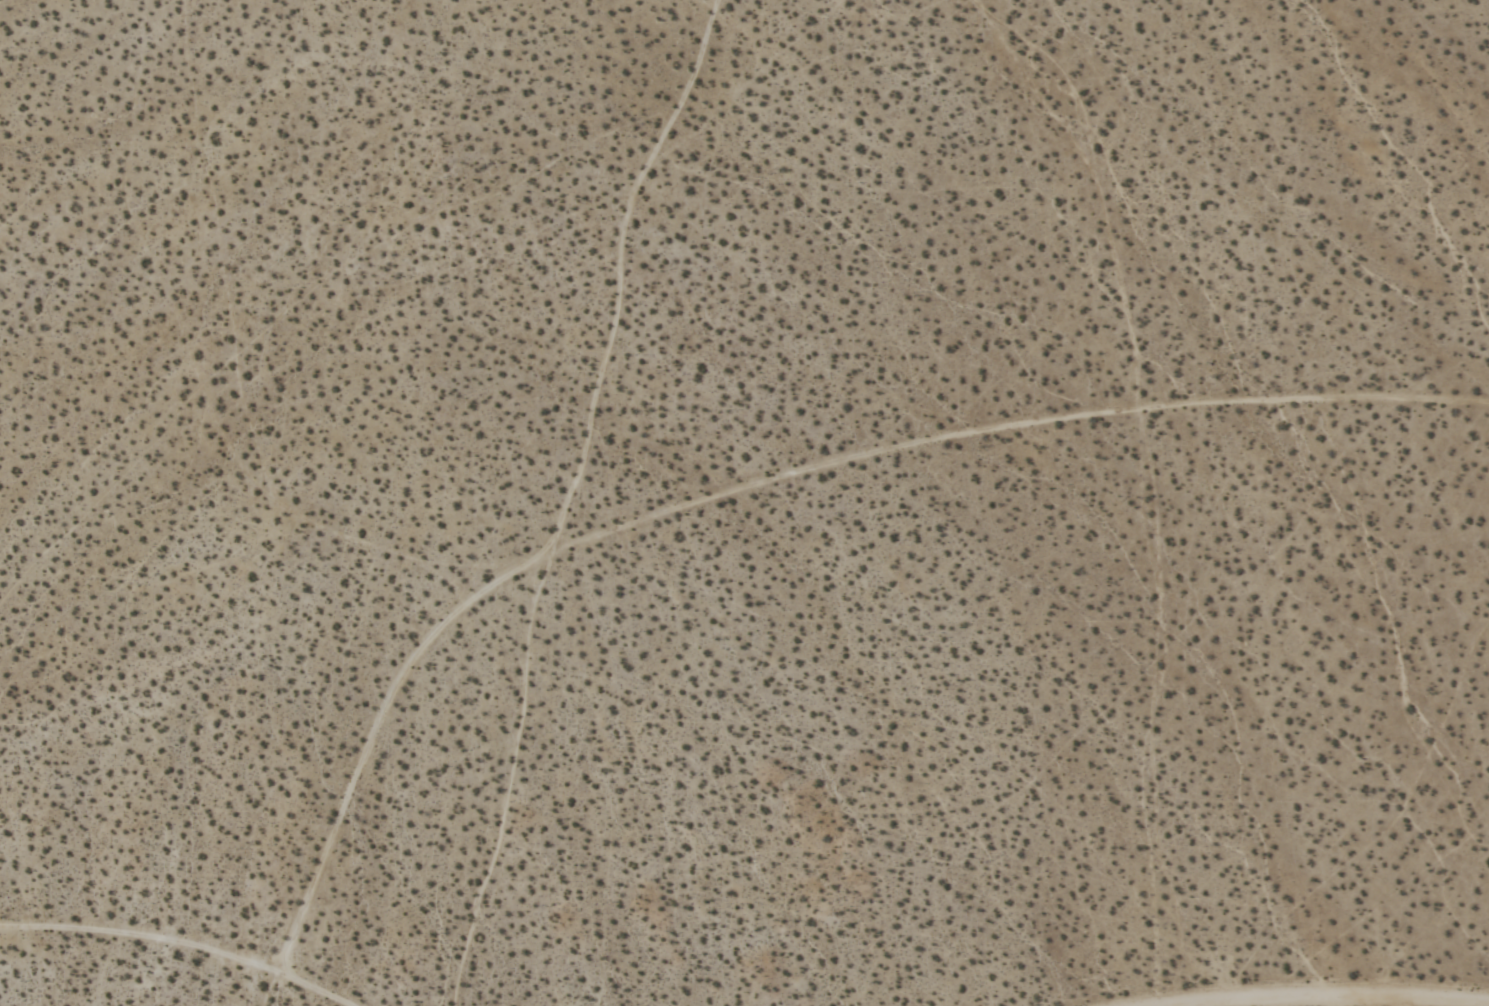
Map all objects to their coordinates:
road: (761, 488)
crop: (744, 503)
road: (174, 947)
road: (1338, 999)

